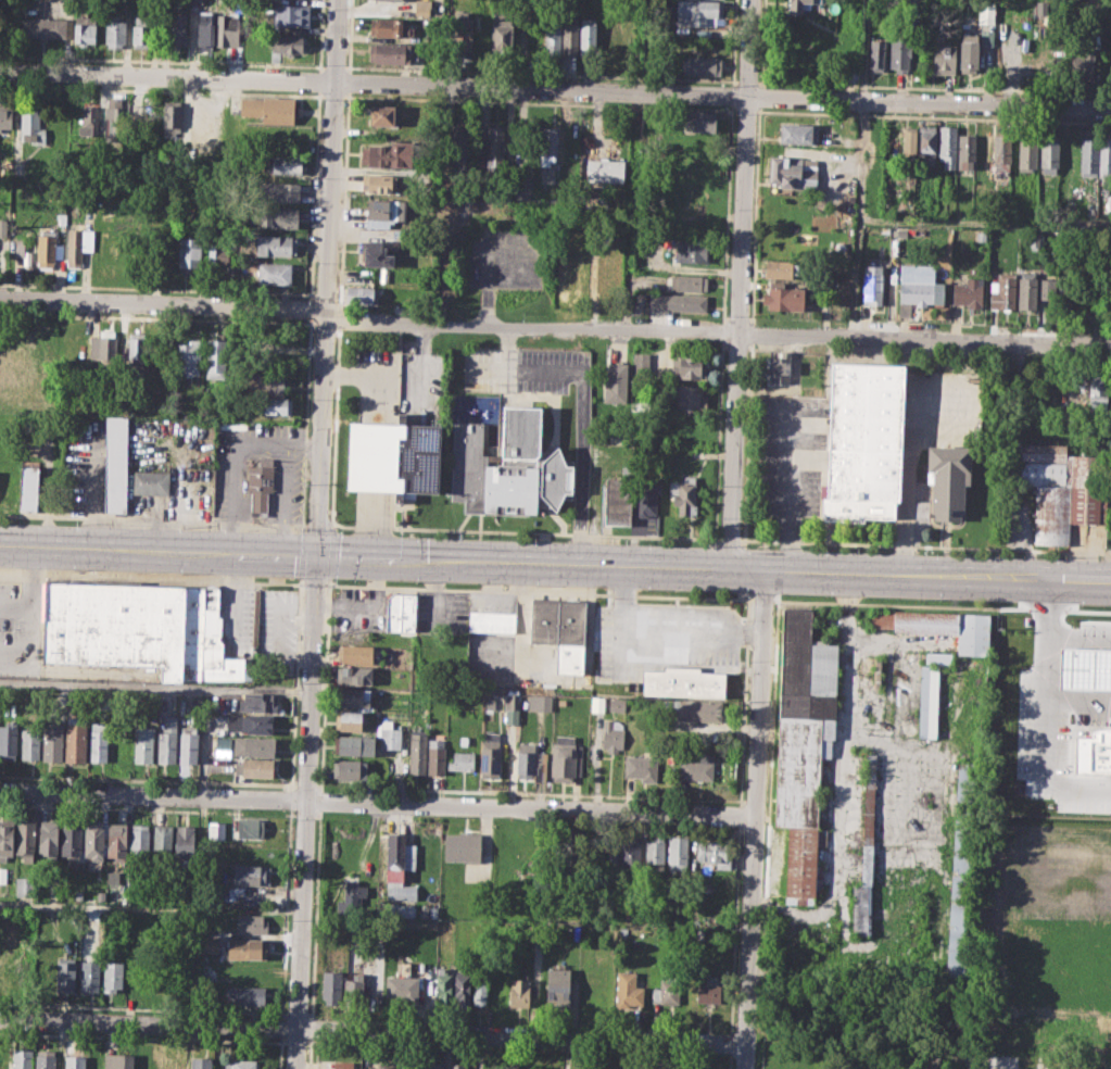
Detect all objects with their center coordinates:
building: (399, 0)
building: (806, 5)
building: (421, 7)
building: (700, 11)
building: (290, 14)
building: (985, 14)
building: (177, 24)
building: (386, 26)
building: (42, 27)
building: (86, 27)
building: (141, 28)
building: (226, 29)
building: (114, 32)
building: (206, 32)
building: (459, 32)
building: (501, 32)
road: (351, 35)
building: (570, 35)
road: (320, 36)
building: (552, 37)
building: (588, 37)
building: (607, 40)
building: (286, 47)
building: (878, 50)
road: (864, 51)
building: (969, 52)
building: (389, 53)
building: (899, 54)
building: (944, 59)
building: (1083, 64)
building: (700, 65)
road: (318, 80)
road: (349, 80)
road: (555, 91)
building: (268, 110)
building: (5, 114)
building: (382, 114)
building: (89, 117)
building: (172, 117)
building: (114, 122)
building: (700, 123)
building: (31, 124)
building: (798, 133)
building: (909, 140)
building: (548, 141)
building: (927, 144)
building: (458, 146)
building: (490, 146)
building: (947, 146)
building: (967, 151)
building: (1001, 152)
building: (393, 154)
building: (1027, 154)
building: (1049, 154)
building: (1088, 156)
building: (1104, 156)
building: (286, 164)
building: (787, 169)
building: (606, 172)
building: (377, 184)
building: (522, 187)
building: (279, 191)
road: (314, 194)
road: (344, 199)
building: (382, 213)
building: (278, 217)
road: (870, 221)
building: (2, 227)
building: (401, 235)
building: (981, 236)
building: (1035, 241)
building: (274, 244)
building: (78, 246)
building: (47, 249)
building: (693, 251)
building: (22, 252)
building: (190, 254)
building: (217, 254)
building: (376, 254)
road: (488, 257)
parking lot: (505, 257)
building: (783, 268)
building: (606, 272)
building: (275, 273)
road: (740, 281)
building: (689, 282)
building: (873, 284)
building: (916, 286)
building: (1027, 290)
building: (1002, 291)
building: (1047, 291)
building: (968, 292)
building: (362, 294)
building: (640, 297)
building: (783, 298)
building: (678, 303)
road: (163, 304)
road: (310, 307)
road: (340, 317)
road: (718, 331)
building: (136, 344)
building: (103, 347)
road: (506, 348)
building: (73, 349)
building: (188, 359)
building: (216, 359)
building: (641, 363)
building: (689, 367)
building: (780, 367)
parking lot: (523, 368)
building: (272, 382)
building: (617, 382)
building: (1098, 388)
building: (689, 398)
building: (275, 405)
road: (583, 411)
road: (305, 420)
building: (683, 429)
building: (857, 441)
road: (262, 443)
road: (303, 448)
parking lot: (787, 456)
building: (393, 457)
building: (116, 465)
building: (507, 467)
building: (948, 480)
building: (150, 482)
road: (908, 482)
building: (260, 486)
road: (785, 486)
building: (28, 488)
building: (1061, 489)
building: (684, 494)
building: (618, 499)
building: (647, 499)
flagpole: (396, 503)
road: (152, 519)
road: (332, 523)
road: (317, 524)
road: (304, 525)
road: (428, 528)
road: (317, 534)
road: (729, 540)
road: (924, 545)
road: (302, 552)
road: (330, 552)
traffic signals: (317, 553)
road: (364, 554)
road: (920, 571)
road: (151, 578)
road: (313, 583)
road: (538, 591)
road: (34, 593)
road: (236, 593)
road: (761, 600)
road: (844, 601)
road: (940, 605)
building: (400, 612)
parking lot: (237, 620)
building: (681, 620)
building: (491, 621)
parking lot: (20, 627)
building: (939, 627)
building: (138, 628)
building: (559, 630)
parking lot: (277, 631)
road: (279, 636)
road: (655, 639)
road: (31, 645)
building: (356, 654)
building: (938, 657)
road: (1046, 672)
building: (354, 675)
road: (295, 681)
building: (683, 681)
gas station: (683, 681)
road: (324, 682)
road: (154, 684)
building: (354, 697)
building: (498, 701)
building: (256, 702)
building: (540, 702)
building: (560, 702)
building: (927, 702)
building: (597, 704)
building: (618, 704)
building: (512, 707)
building: (694, 709)
building: (350, 721)
building: (251, 722)
building: (389, 734)
building: (613, 734)
building: (8, 740)
building: (99, 740)
building: (166, 740)
building: (30, 741)
building: (53, 741)
building: (75, 741)
building: (143, 744)
building: (188, 744)
building: (803, 744)
building: (253, 745)
building: (355, 745)
building: (223, 746)
building: (417, 752)
building: (490, 755)
building: (435, 756)
building: (567, 758)
building: (462, 760)
building: (525, 760)
building: (254, 767)
building: (641, 767)
building: (697, 767)
building: (351, 769)
road: (1041, 777)
road: (148, 779)
road: (306, 784)
road: (290, 797)
road: (376, 802)
road: (836, 809)
road: (752, 817)
building: (250, 827)
building: (959, 837)
building: (7, 839)
building: (25, 840)
building: (48, 840)
building: (71, 840)
building: (116, 842)
building: (94, 843)
building: (140, 843)
building: (162, 843)
building: (185, 843)
building: (460, 847)
building: (866, 851)
building: (569, 853)
building: (631, 853)
building: (654, 853)
building: (678, 853)
building: (715, 853)
building: (397, 856)
building: (610, 864)
building: (3, 873)
building: (250, 875)
building: (818, 879)
building: (24, 885)
building: (400, 892)
building: (354, 894)
road: (96, 903)
building: (402, 910)
building: (633, 910)
building: (429, 911)
building: (957, 915)
building: (251, 923)
building: (209, 943)
building: (245, 948)
building: (5, 958)
building: (65, 974)
building: (90, 976)
building: (114, 976)
building: (558, 985)
building: (331, 986)
building: (443, 986)
building: (462, 986)
building: (402, 988)
building: (479, 989)
building: (353, 990)
building: (709, 990)
building: (628, 991)
building: (519, 992)
building: (667, 992)
building: (247, 996)
road: (242, 1009)
road: (371, 1029)
road: (977, 1056)
building: (22, 1059)
building: (45, 1059)
building: (73, 1059)
building: (118, 1060)
building: (151, 1061)
building: (925, 1061)
building: (177, 1062)
building: (201, 1062)
building: (242, 1064)
building: (342, 1065)
building: (386, 1065)
building: (409, 1065)
building: (432, 1066)
building: (456, 1066)
building: (595, 1068)
building: (696, 1068)

